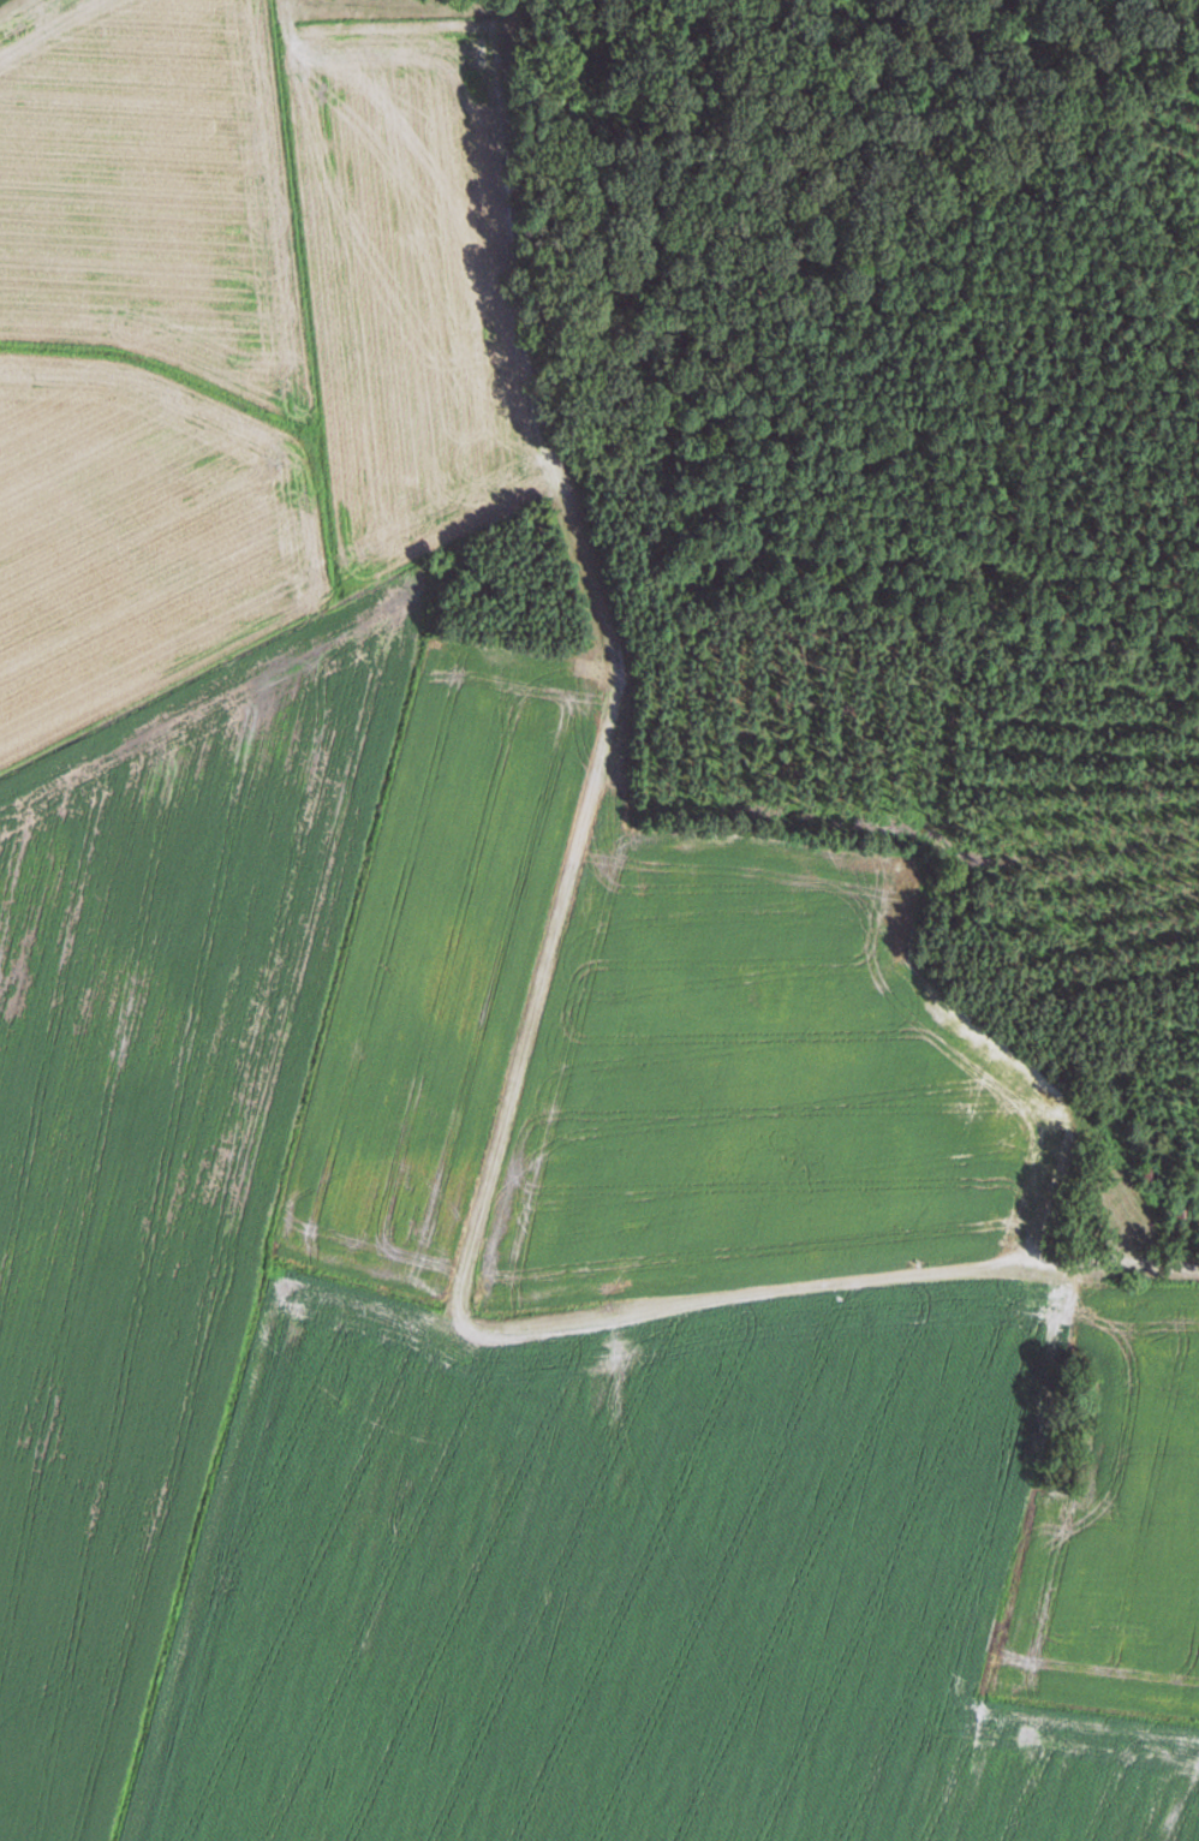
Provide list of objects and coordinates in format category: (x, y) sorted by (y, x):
building: (1182, 1207)
road: (1099, 1262)

